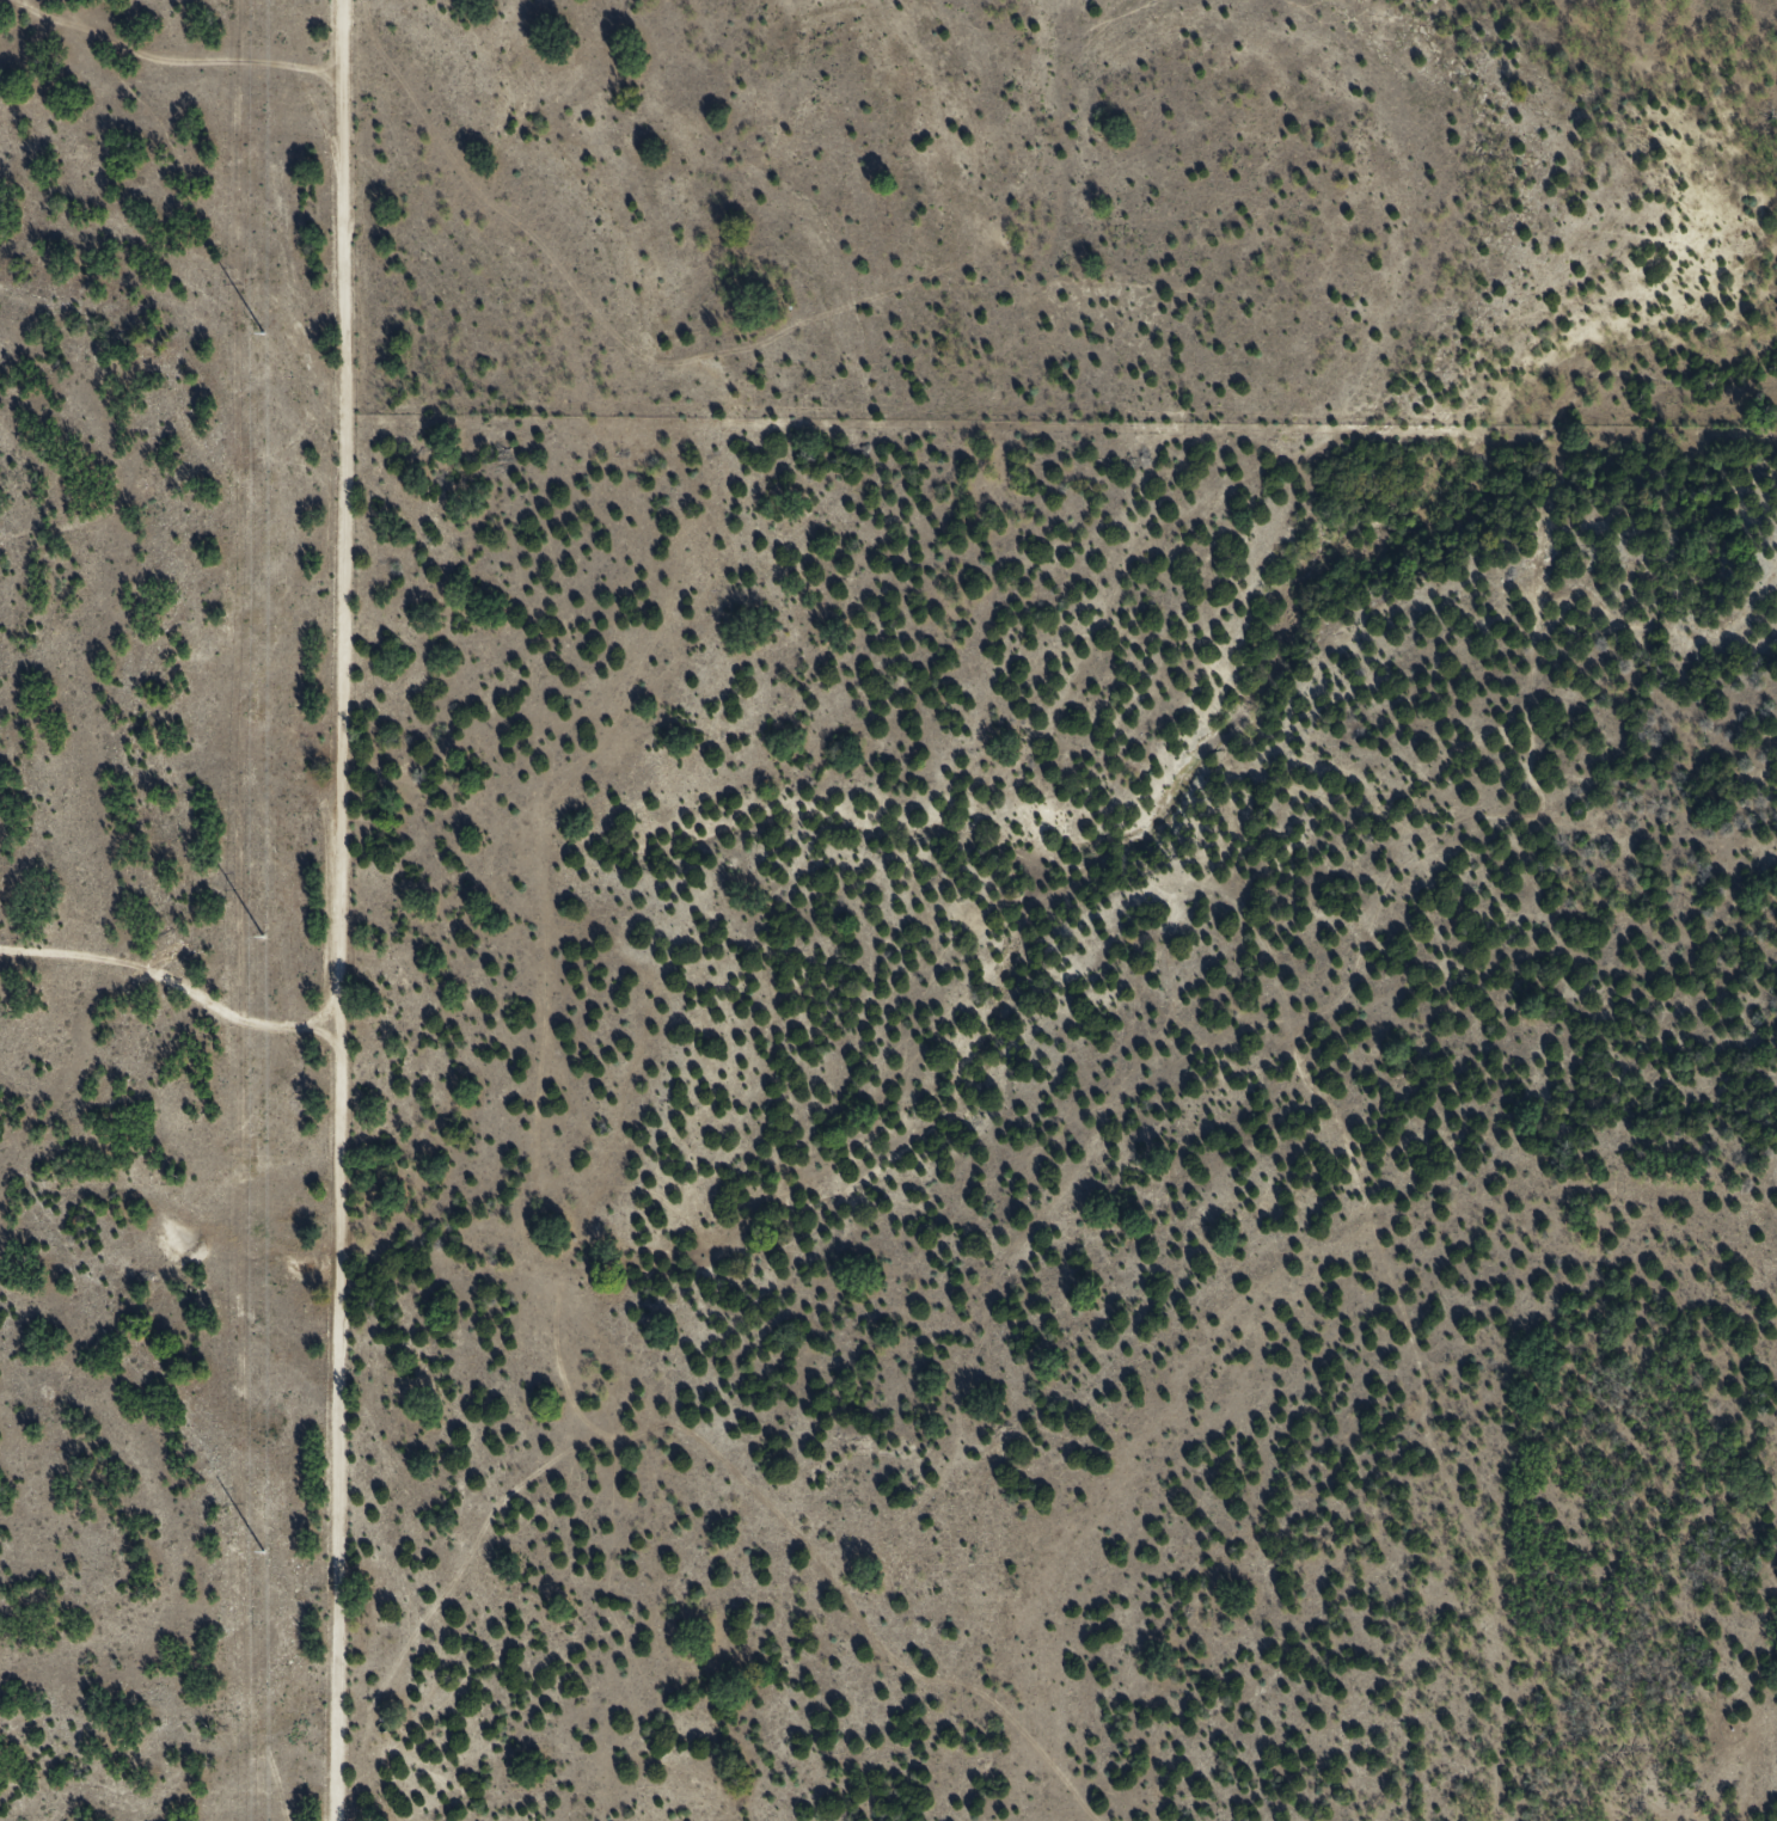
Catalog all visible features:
power tower: (262, 332)
road: (173, 507)
road: (345, 911)
power tower: (263, 938)
road: (754, 1510)
power tower: (262, 1552)

